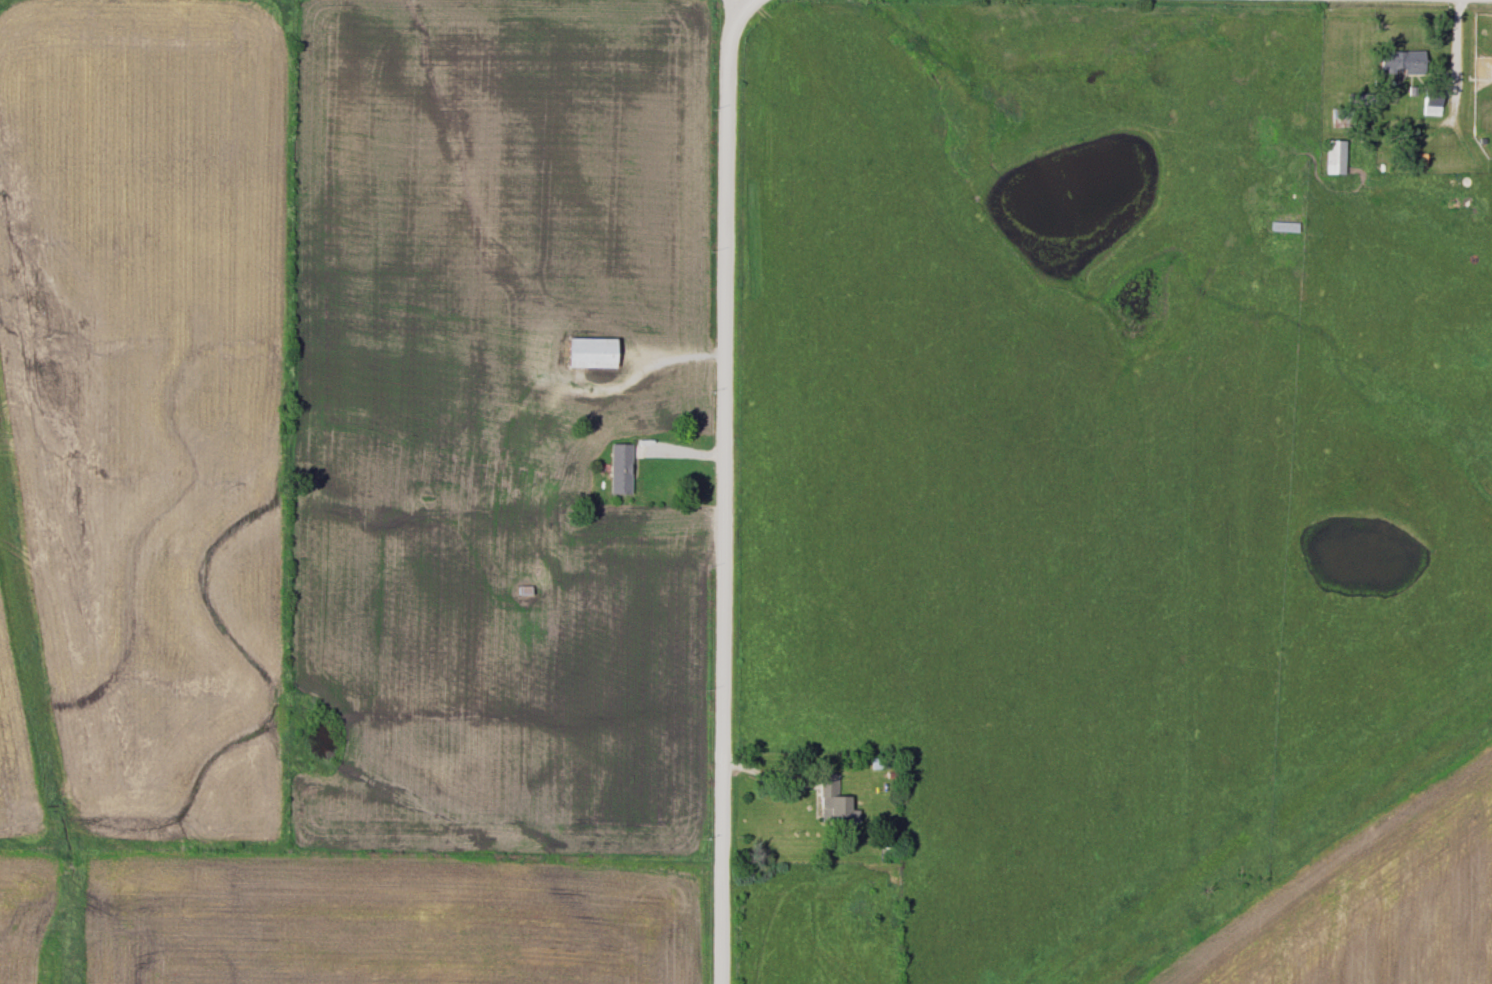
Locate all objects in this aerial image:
building: (1404, 61)
road: (1452, 61)
building: (1432, 103)
building: (1342, 119)
building: (1335, 158)
building: (594, 354)
building: (623, 470)
road: (725, 492)
building: (835, 803)
crop: (1378, 905)
crop: (23, 909)
crop: (386, 922)

